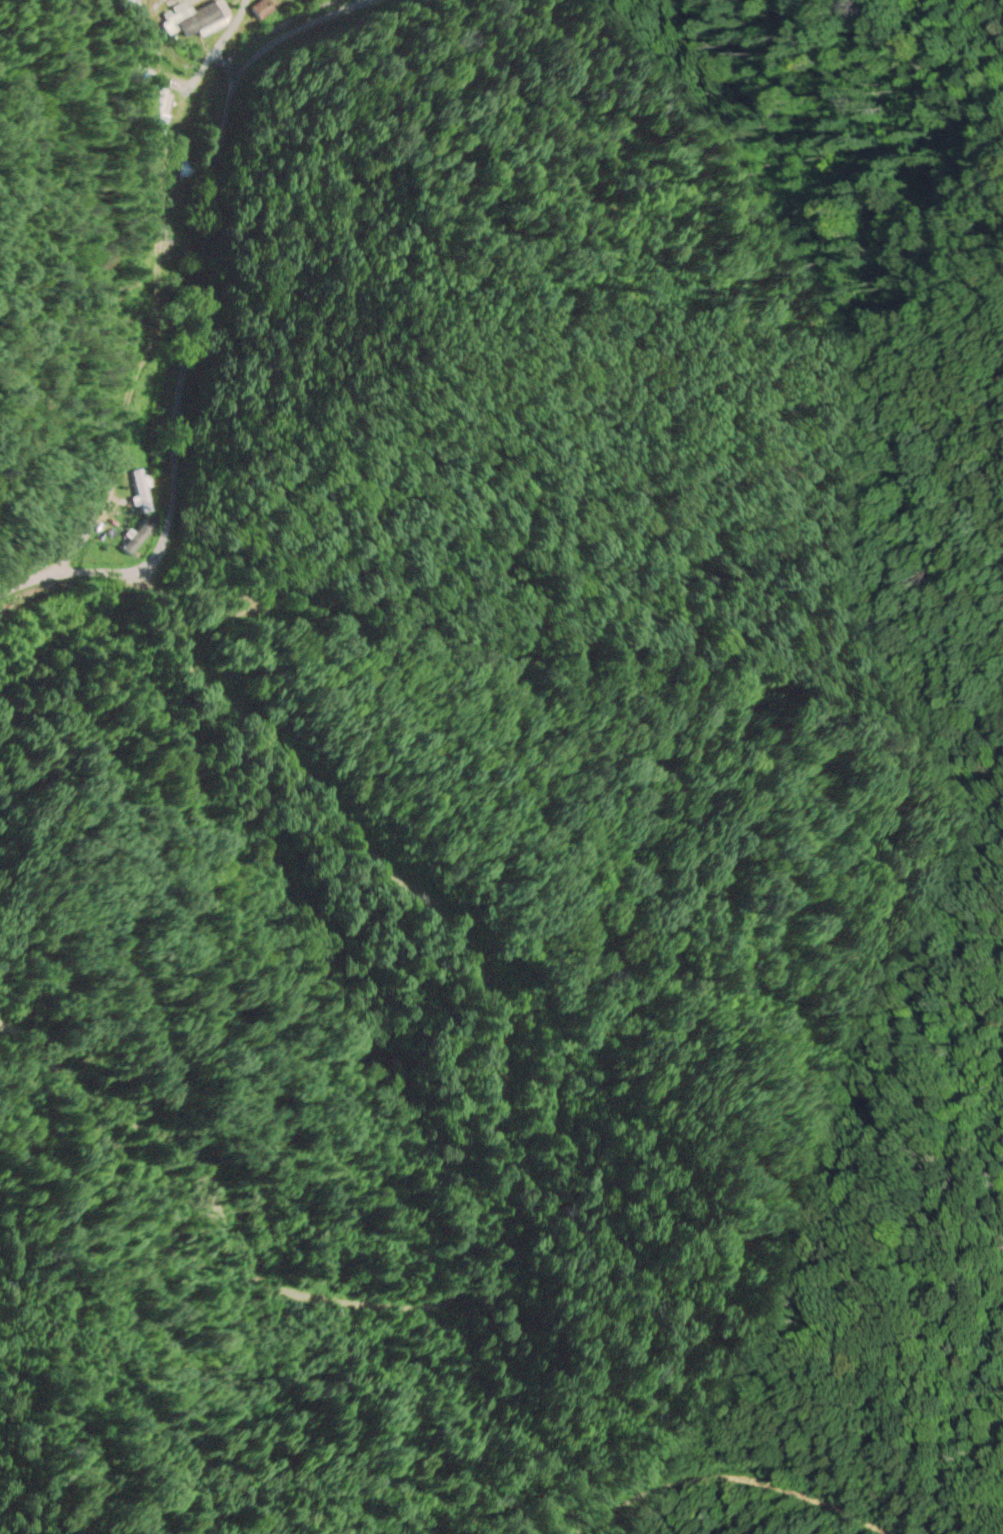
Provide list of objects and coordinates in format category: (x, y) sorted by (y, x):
road: (190, 327)

